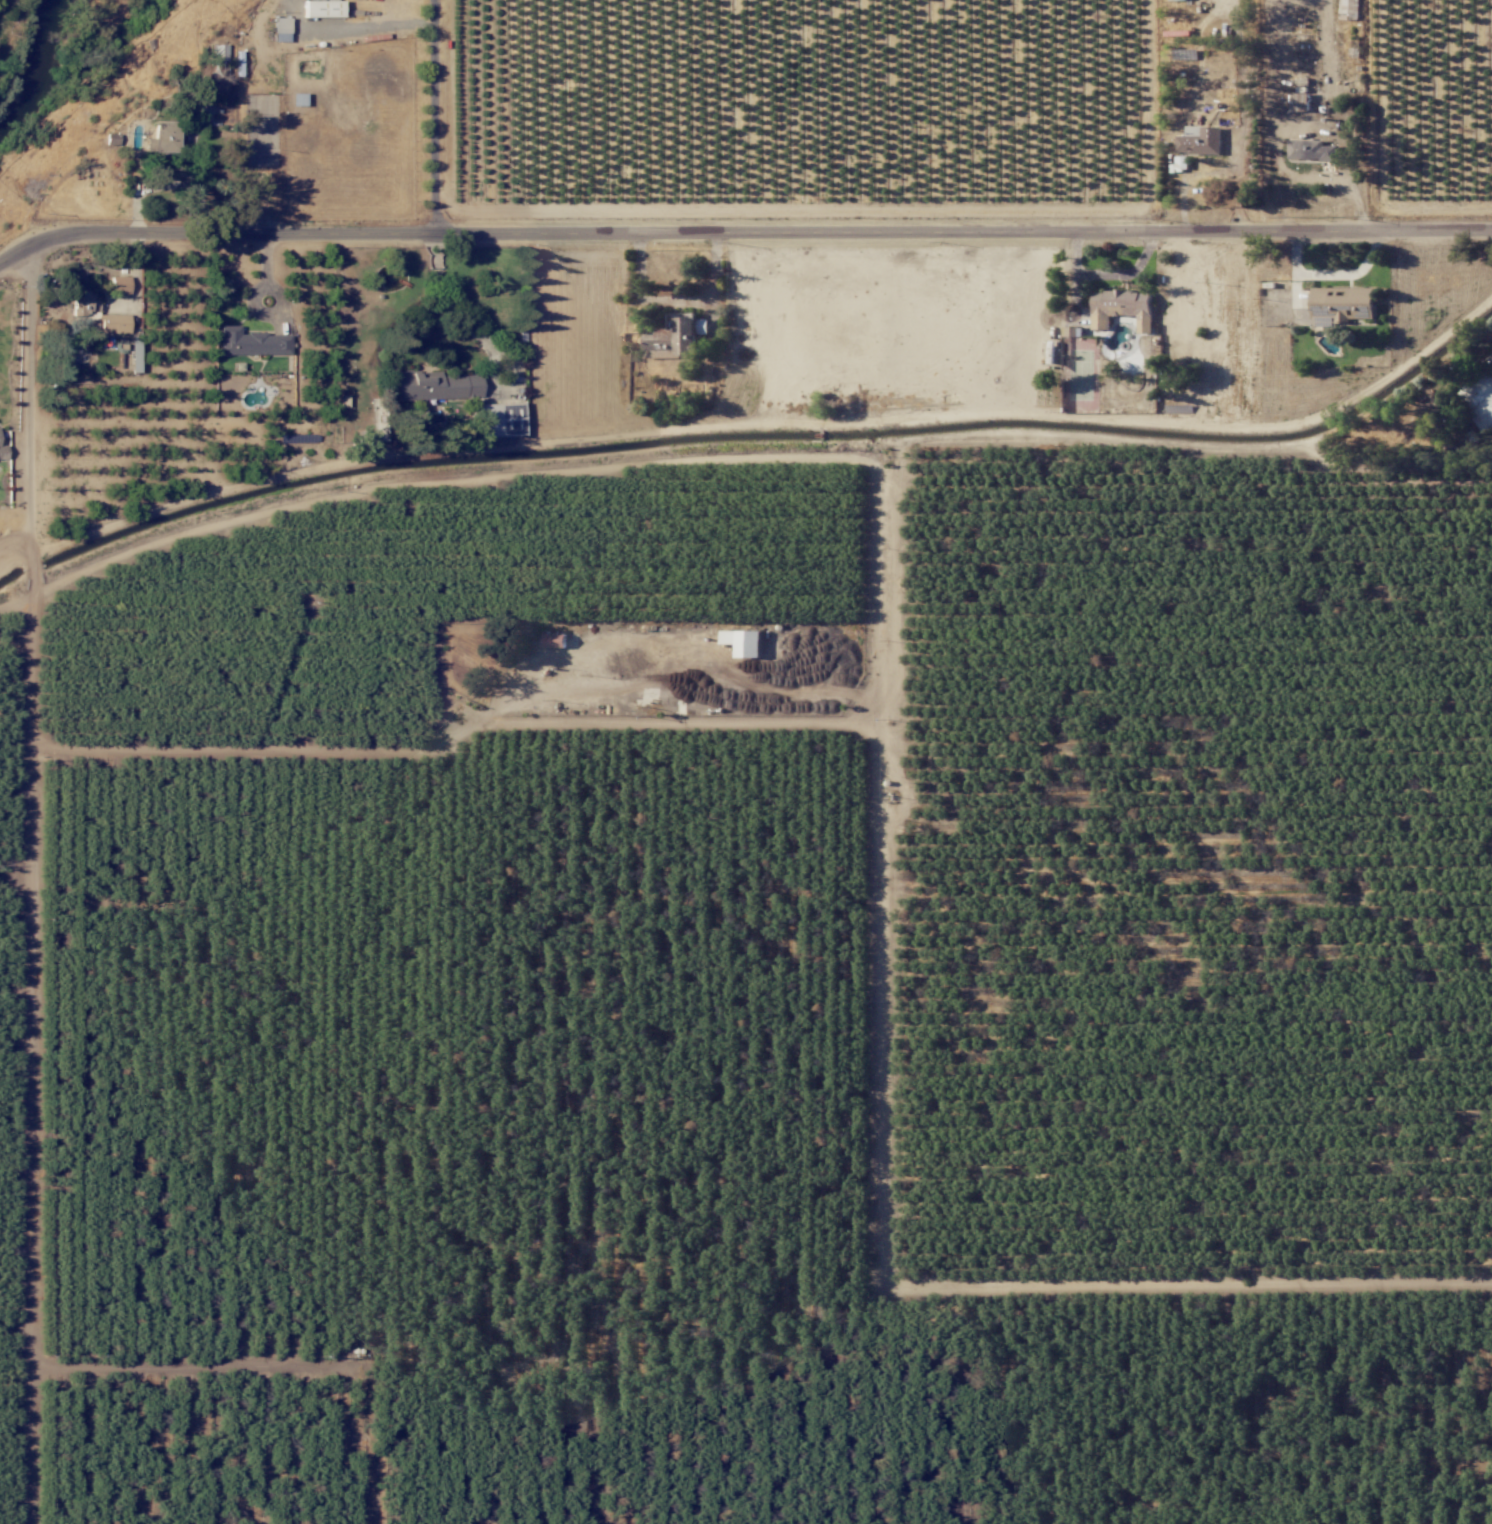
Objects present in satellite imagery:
building: (320, 8)
building: (1349, 10)
building: (280, 29)
building: (216, 52)
river: (37, 64)
building: (202, 87)
building: (297, 99)
building: (1301, 102)
road: (432, 117)
building: (160, 138)
building: (1200, 140)
building: (1312, 151)
building: (1182, 162)
road: (743, 232)
road: (1110, 274)
building: (118, 285)
building: (81, 303)
building: (1122, 308)
building: (112, 323)
building: (1073, 332)
building: (677, 336)
building: (250, 342)
building: (434, 386)
road: (32, 390)
building: (1481, 400)
building: (495, 419)
building: (2, 452)
building: (555, 640)
building: (744, 642)
road: (883, 760)

